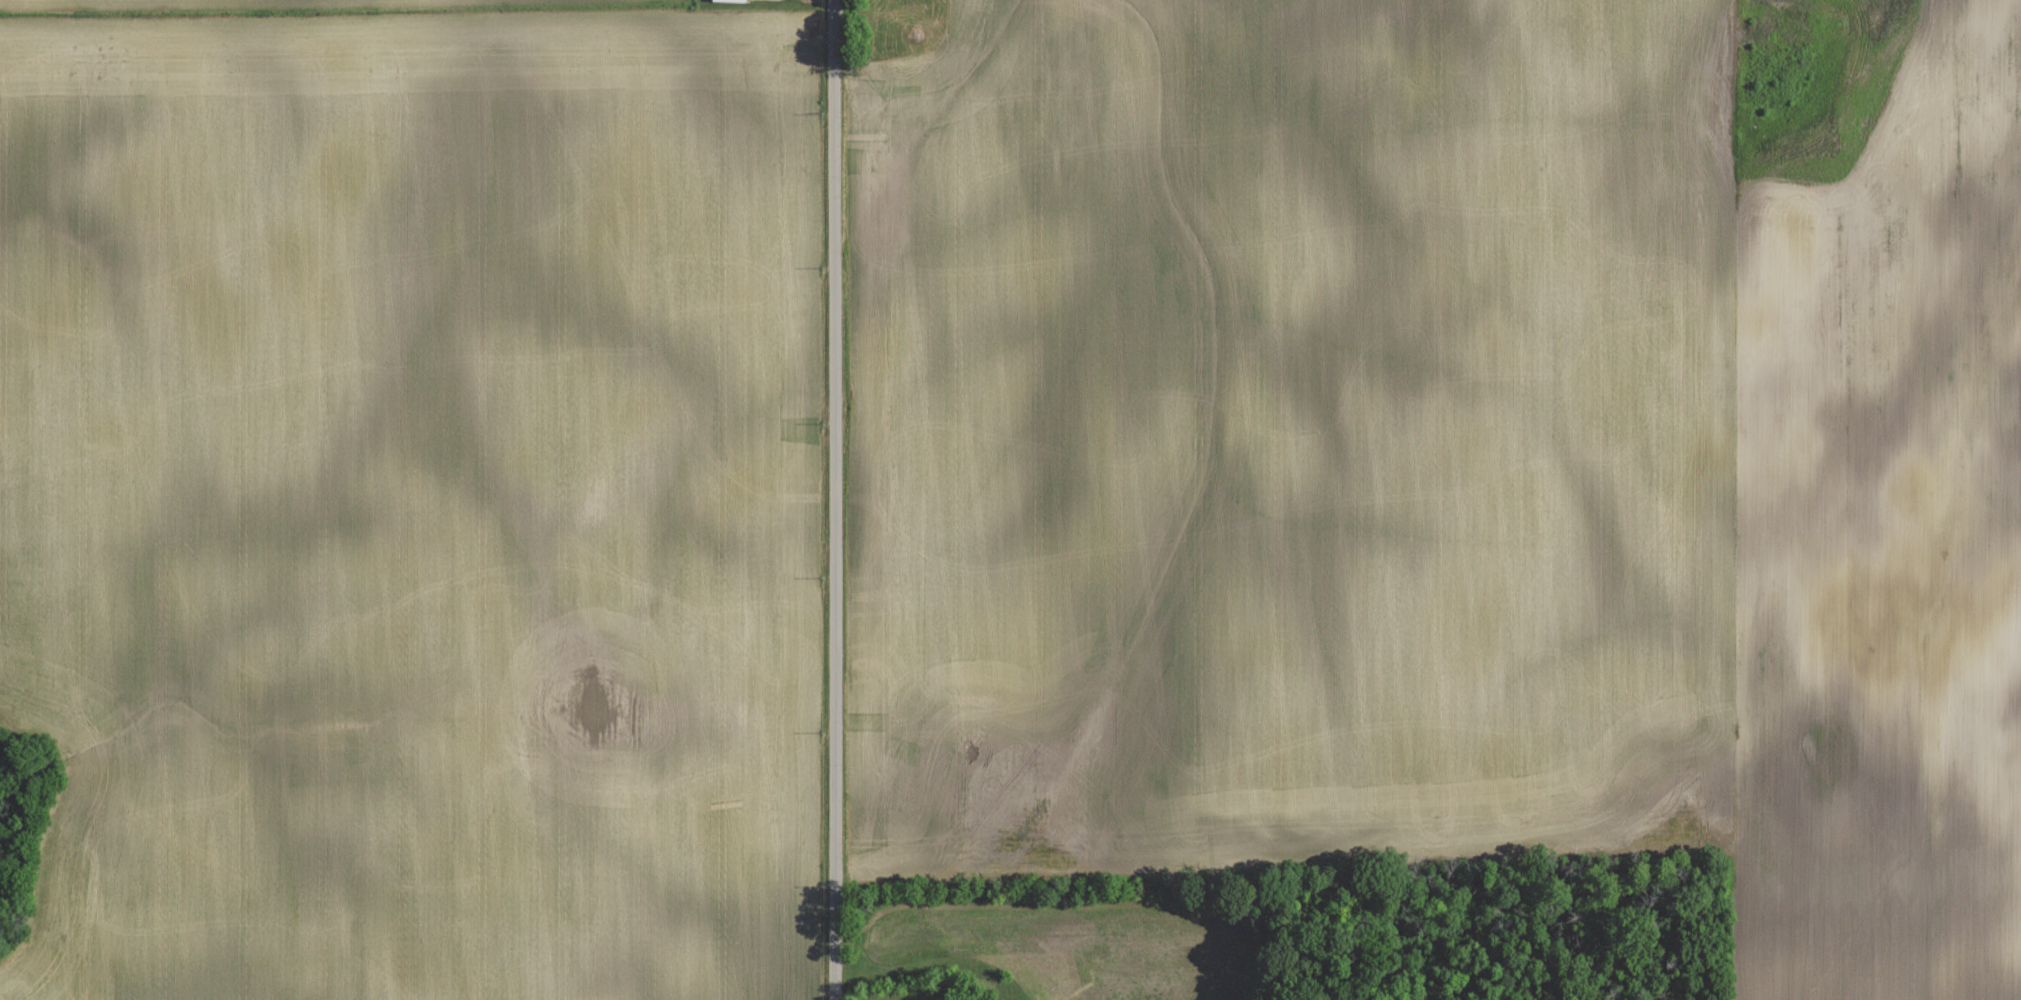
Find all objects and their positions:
road: (830, 500)

